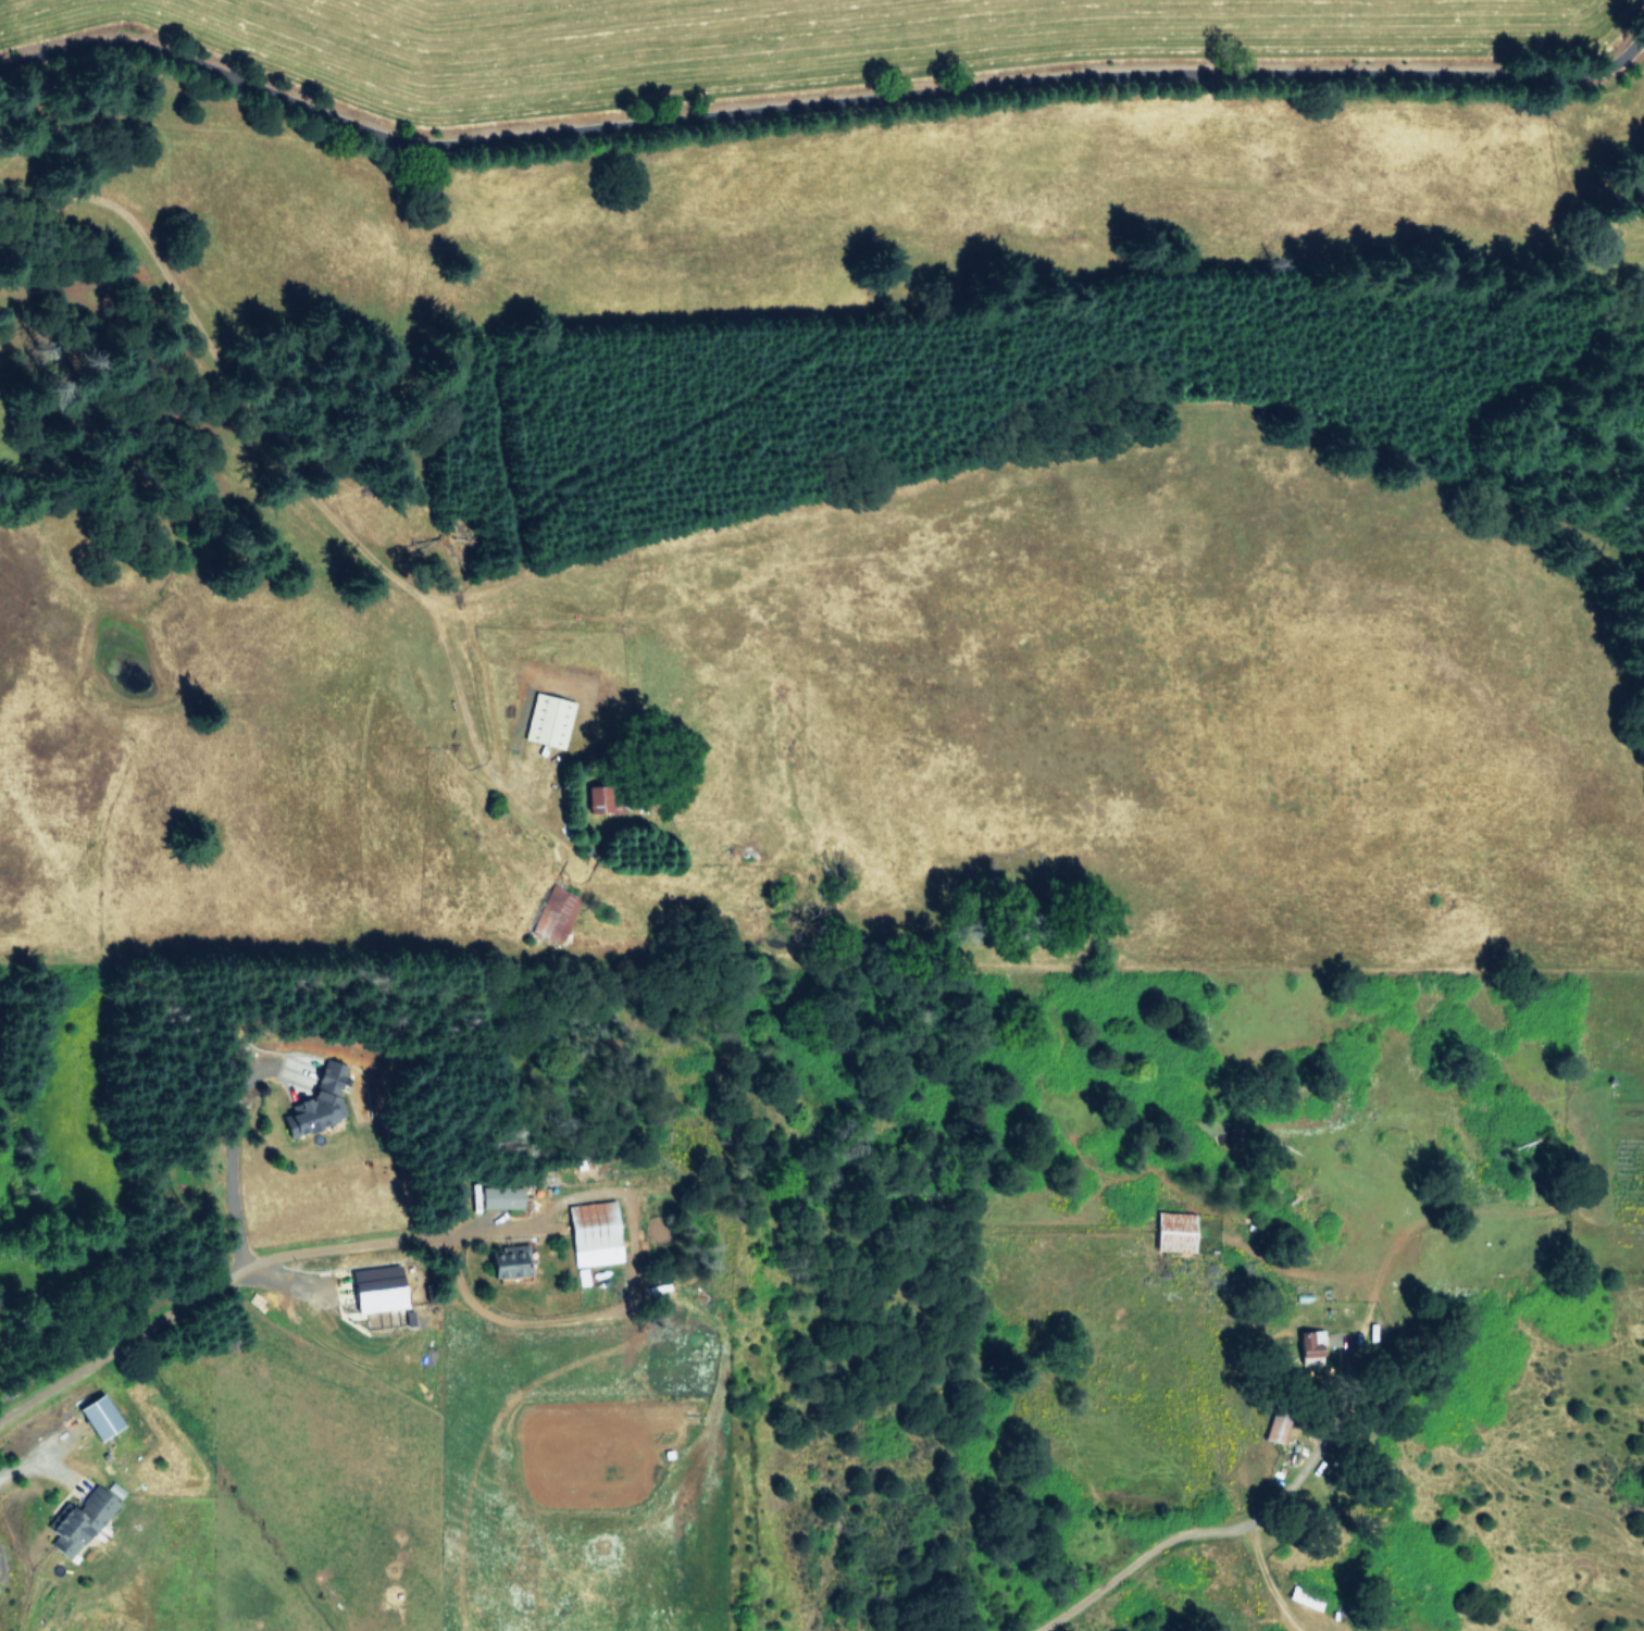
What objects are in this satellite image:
road: (818, 102)
road: (269, 447)
building: (548, 720)
building: (595, 799)
building: (555, 913)
building: (316, 1104)
road: (227, 1153)
building: (501, 1196)
building: (593, 1232)
building: (507, 1261)
road: (627, 1271)
road: (212, 1286)
building: (376, 1287)
building: (1313, 1336)
building: (98, 1416)
road: (1293, 1490)
building: (80, 1518)
road: (1270, 1584)

